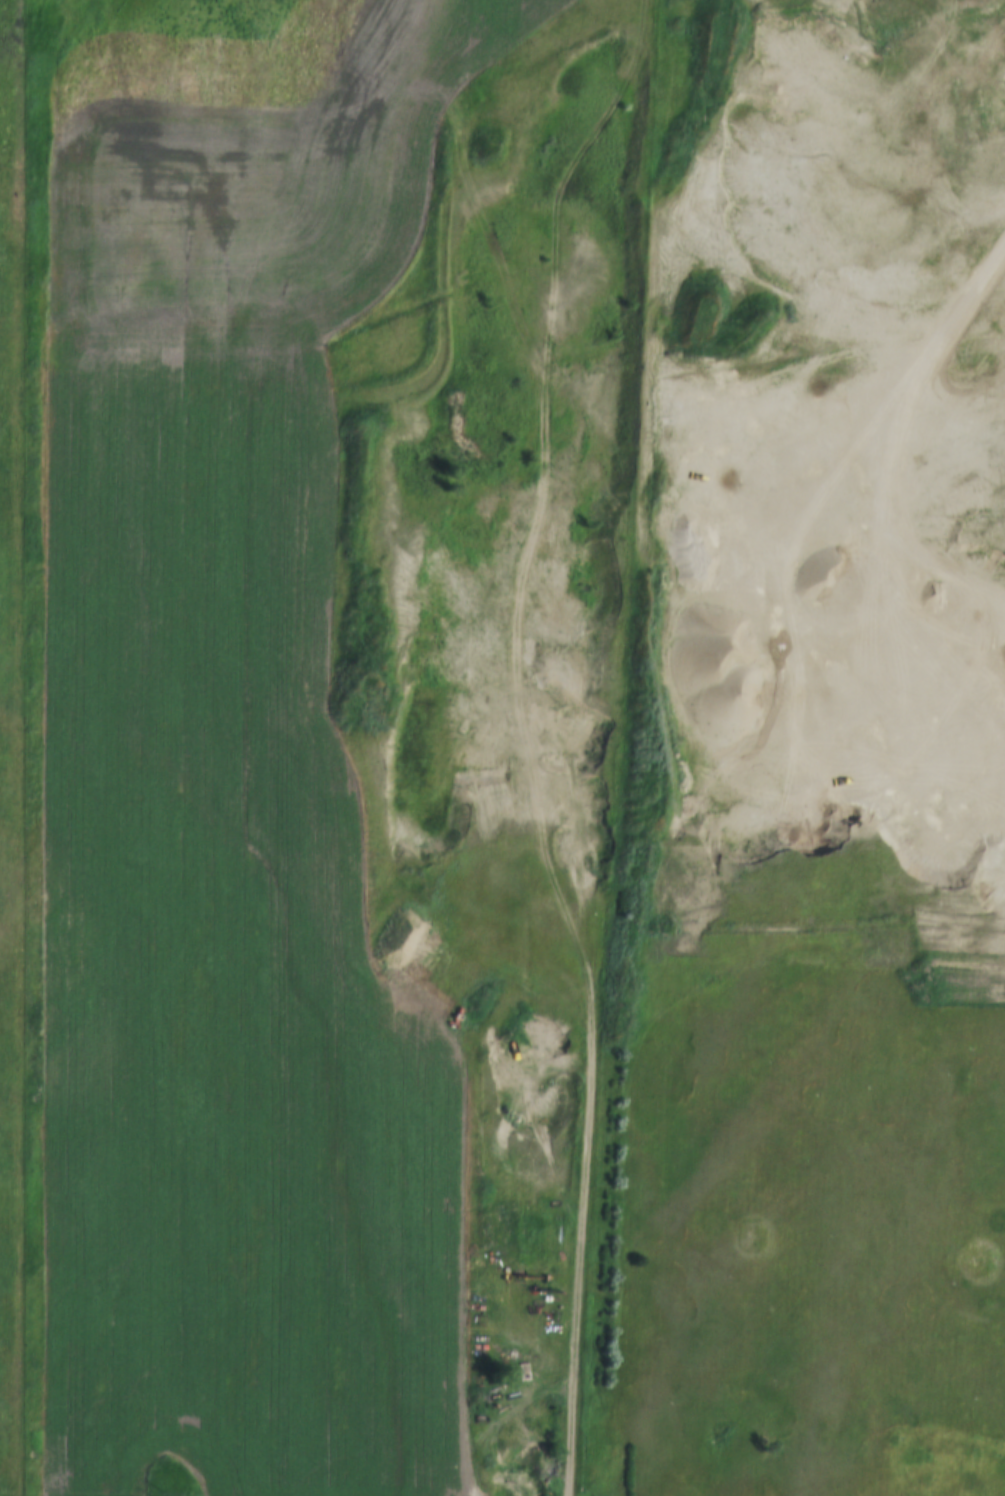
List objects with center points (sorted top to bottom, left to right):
road: (492, 190)
quarry: (687, 446)
road: (548, 734)

